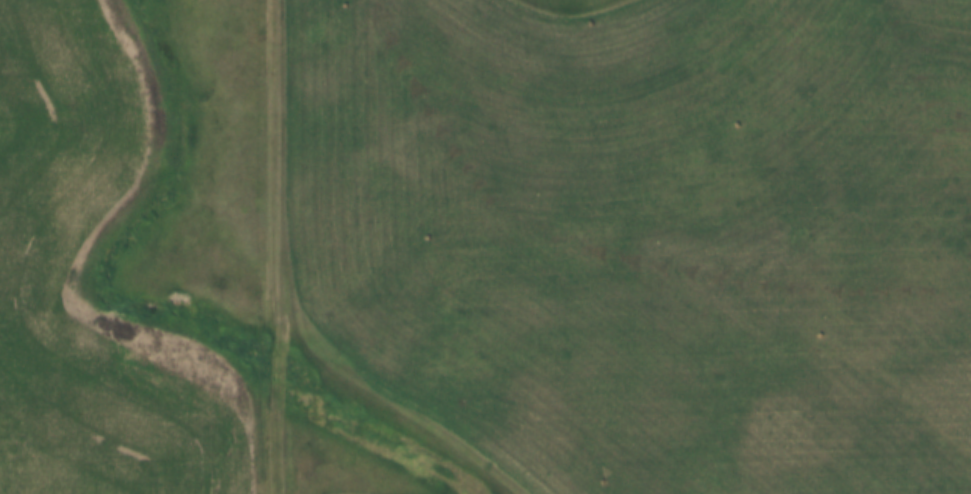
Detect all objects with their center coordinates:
road: (269, 246)

